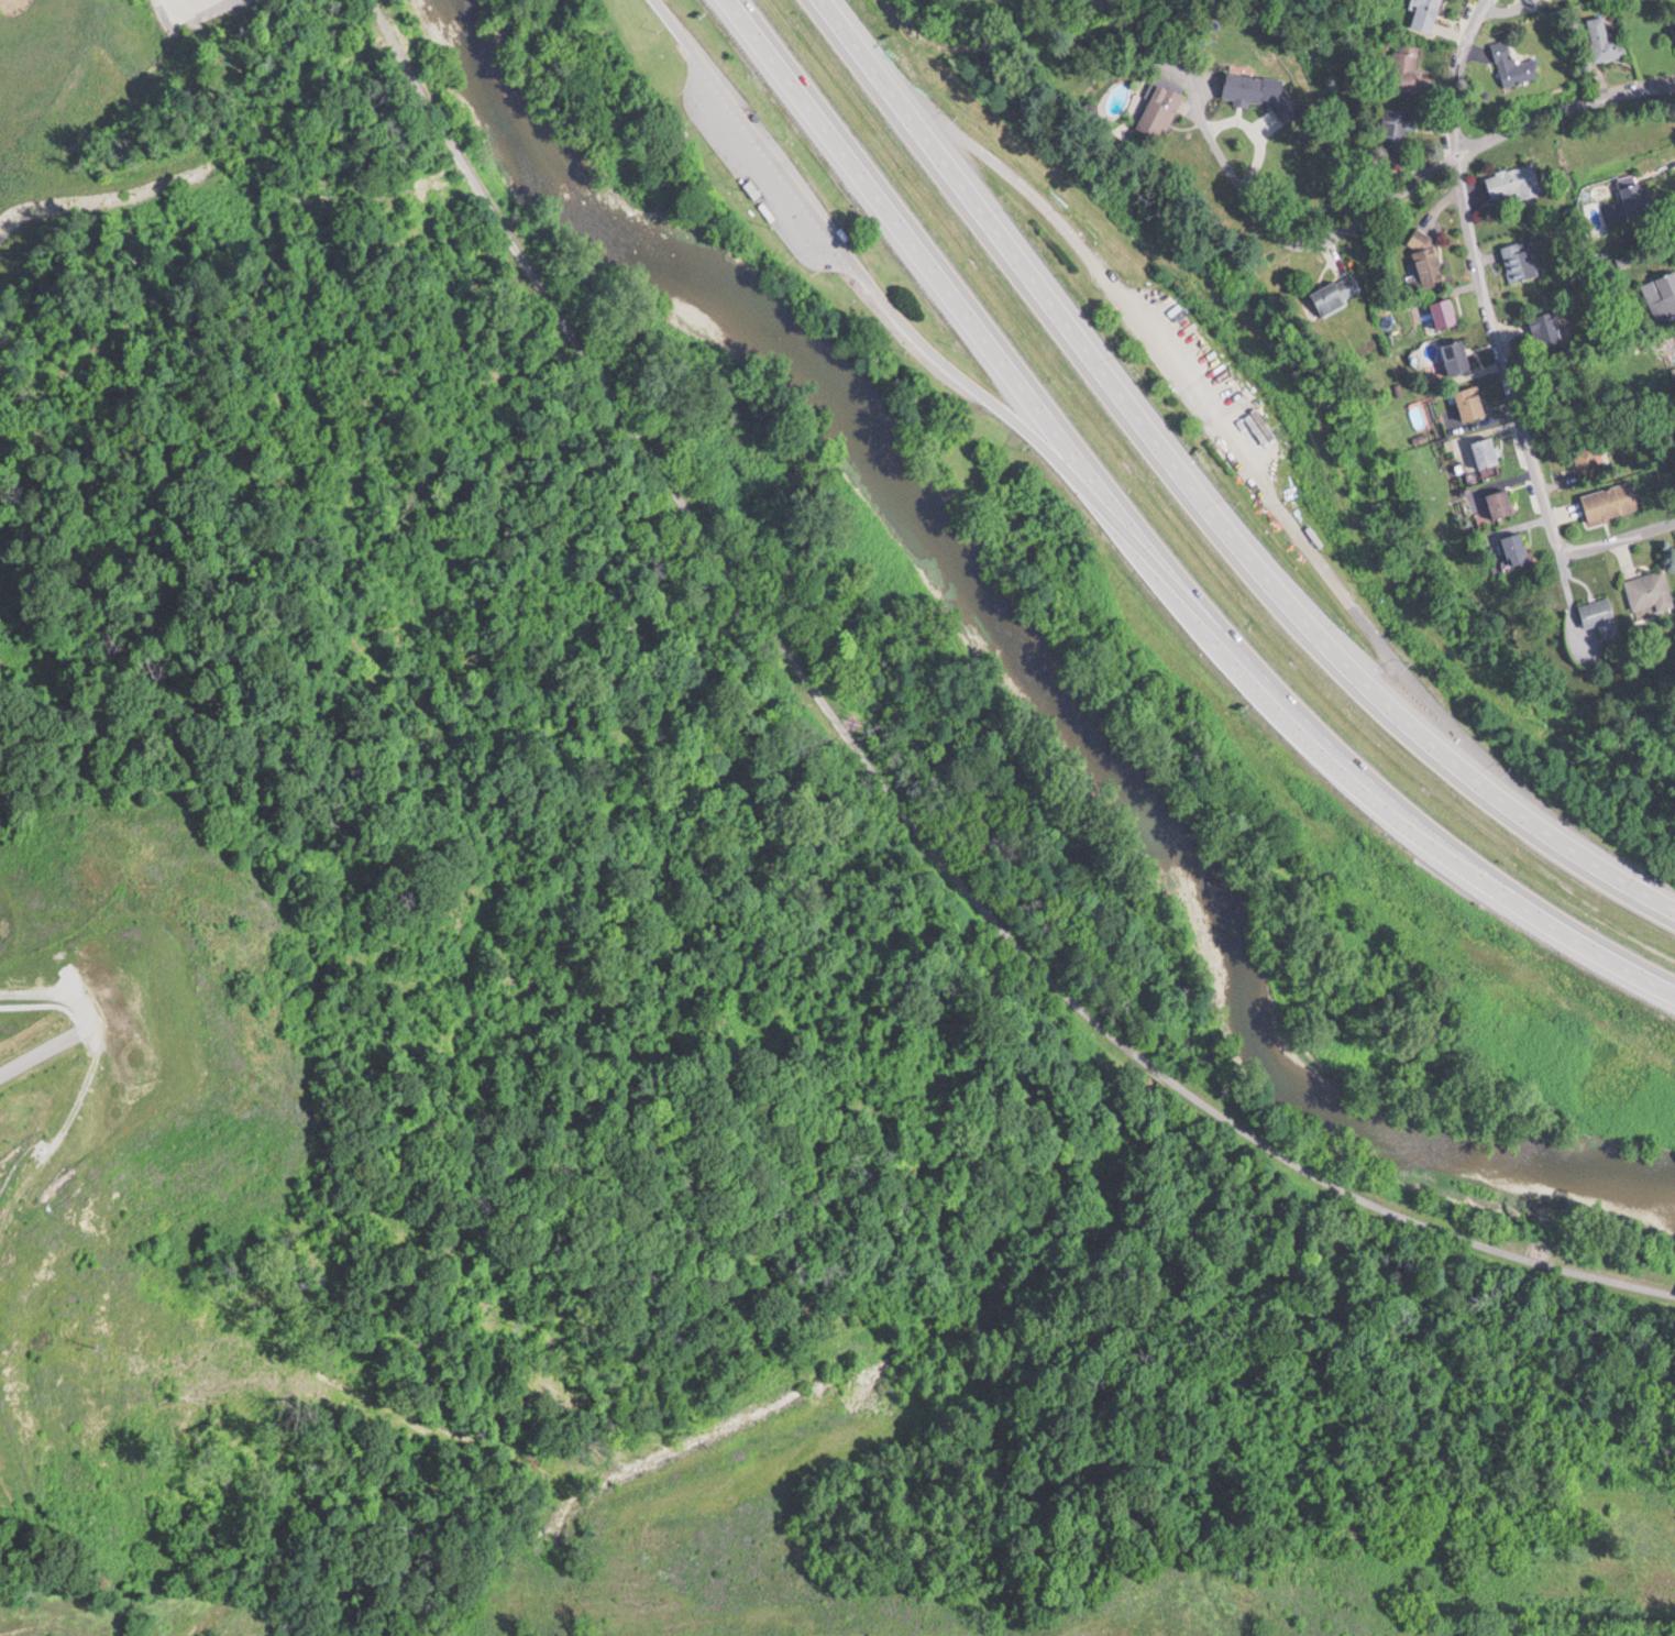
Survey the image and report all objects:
building: (1536, 1)
park: (945, 8)
building: (1425, 13)
road: (670, 20)
building: (1606, 39)
building: (1513, 64)
building: (1406, 66)
building: (1245, 87)
road: (1565, 107)
building: (1160, 108)
building: (1401, 127)
road: (235, 154)
road: (774, 158)
road: (1015, 179)
building: (1513, 182)
building: (753, 187)
building: (1635, 193)
road: (1314, 233)
building: (1428, 256)
building: (1520, 259)
building: (1337, 292)
building: (1664, 296)
building: (1445, 311)
building: (1549, 330)
road: (1497, 332)
building: (1457, 355)
road: (1188, 388)
building: (1472, 402)
road: (998, 405)
building: (1487, 451)
road: (1204, 499)
building: (1610, 501)
building: (1501, 503)
road: (1151, 548)
building: (1516, 548)
building: (1650, 592)
building: (1597, 612)
road: (1381, 644)
river: (1038, 656)
road: (896, 793)
road: (51, 992)
road: (43, 1053)

